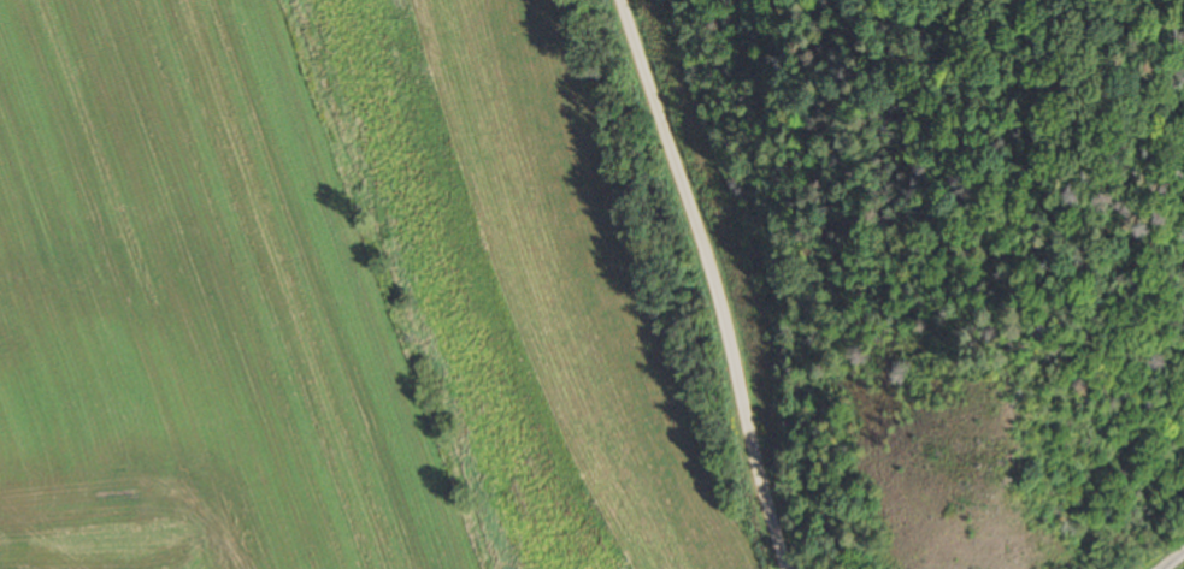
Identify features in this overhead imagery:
road: (719, 280)
road: (1172, 559)

